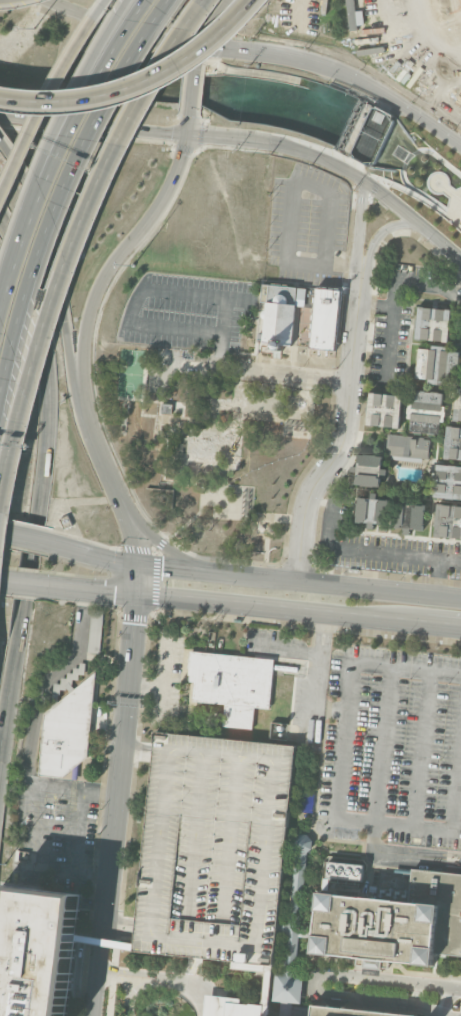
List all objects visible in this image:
parking lot: (169, 6)
road: (115, 16)
road: (205, 19)
park: (436, 28)
track: (365, 39)
traffic signals: (198, 43)
road: (197, 50)
road: (259, 50)
road: (138, 84)
road: (194, 87)
road: (46, 95)
road: (190, 126)
dam: (353, 126)
traffic signals: (189, 136)
road: (247, 140)
road: (59, 148)
road: (415, 151)
road: (407, 157)
road: (441, 159)
road: (40, 163)
road: (403, 165)
park: (421, 174)
road: (441, 177)
road: (309, 182)
road: (376, 183)
road: (59, 191)
road: (373, 191)
road: (450, 192)
road: (423, 194)
road: (422, 198)
road: (454, 206)
parking lot: (306, 223)
road: (358, 224)
road: (382, 231)
road: (70, 244)
road: (117, 255)
road: (53, 260)
road: (322, 265)
road: (138, 296)
road: (395, 298)
road: (376, 305)
parking lot: (187, 311)
building: (280, 313)
building: (323, 318)
building: (432, 324)
road: (223, 332)
road: (177, 363)
building: (437, 364)
park: (131, 373)
road: (283, 376)
fountain: (301, 403)
building: (457, 405)
road: (259, 406)
building: (166, 407)
building: (384, 409)
building: (426, 411)
road: (344, 430)
road: (166, 437)
building: (453, 442)
road: (225, 444)
building: (408, 446)
park: (208, 448)
building: (368, 469)
road: (111, 478)
road: (43, 481)
building: (448, 481)
building: (372, 510)
road: (255, 515)
building: (409, 515)
road: (190, 519)
building: (448, 521)
road: (12, 533)
road: (33, 538)
road: (156, 539)
road: (266, 547)
road: (356, 550)
traffic signals: (163, 568)
road: (250, 575)
road: (437, 578)
road: (138, 582)
road: (7, 584)
road: (25, 586)
road: (86, 592)
traffic signals: (113, 596)
road: (299, 612)
traffic signals: (136, 623)
road: (283, 649)
road: (164, 672)
road: (317, 673)
road: (130, 680)
building: (232, 683)
road: (146, 684)
road: (329, 707)
road: (110, 723)
building: (67, 730)
road: (31, 735)
parking lot: (391, 747)
road: (422, 748)
road: (140, 751)
road: (337, 779)
road: (378, 801)
road: (24, 826)
road: (78, 830)
road: (44, 842)
road: (115, 843)
building: (216, 848)
parking lot: (216, 848)
building: (345, 870)
building: (299, 871)
road: (92, 873)
road: (94, 902)
building: (394, 922)
road: (122, 927)
building: (37, 951)
building: (291, 967)
road: (103, 970)
road: (108, 974)
road: (114, 975)
road: (317, 977)
road: (174, 980)
road: (148, 983)
road: (416, 993)
road: (199, 998)
road: (444, 1000)
building: (236, 1007)
building: (347, 1012)

